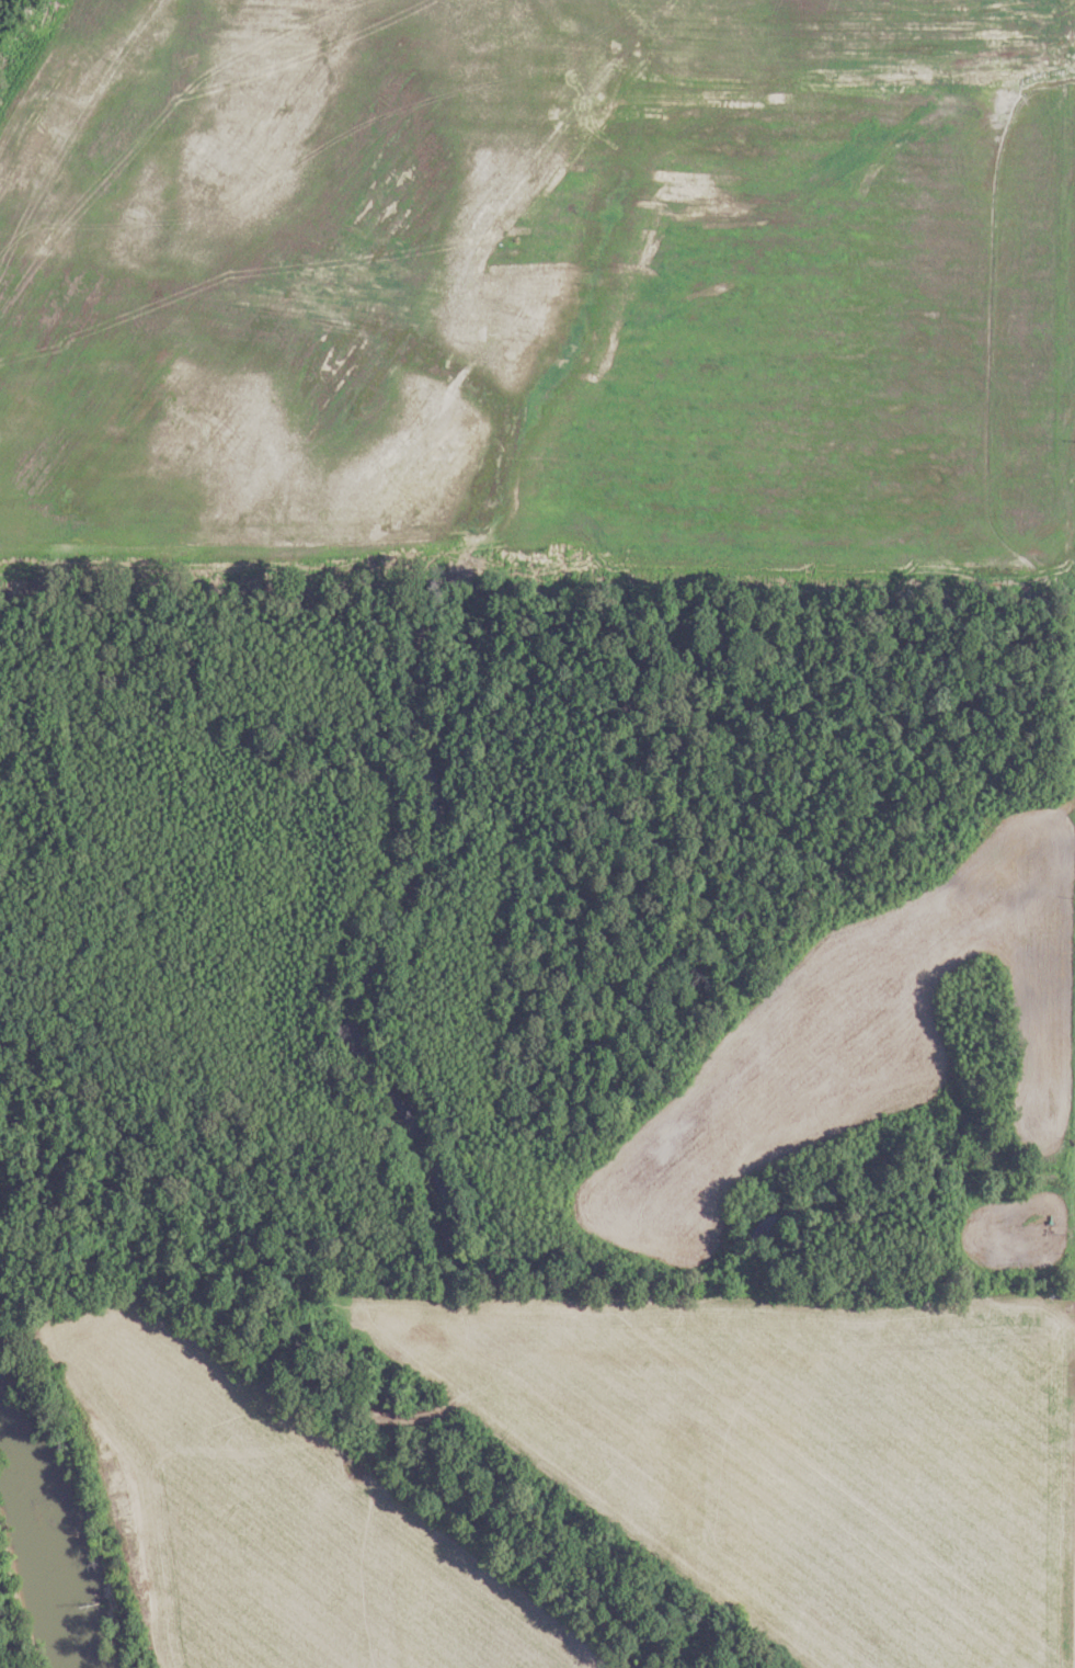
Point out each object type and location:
road: (857, 1407)
river: (30, 1570)

